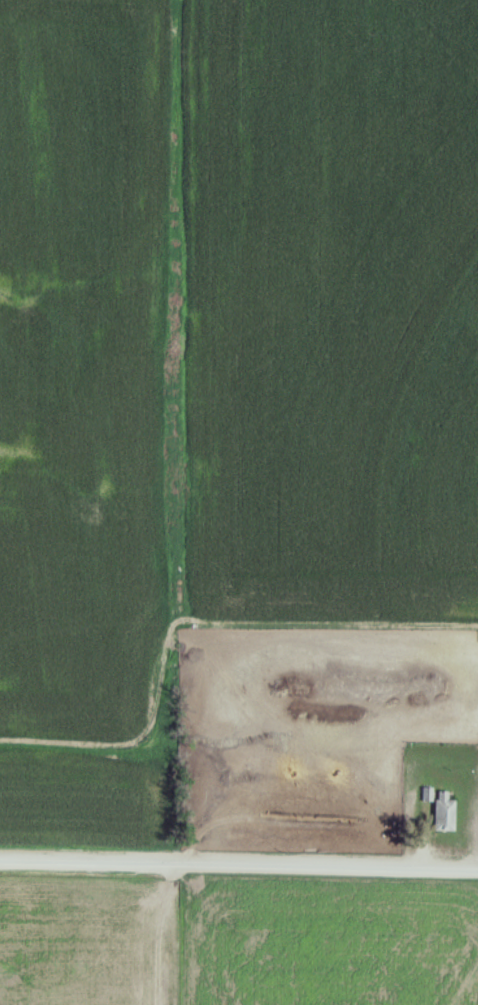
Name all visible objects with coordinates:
building: (438, 809)
road: (238, 875)

